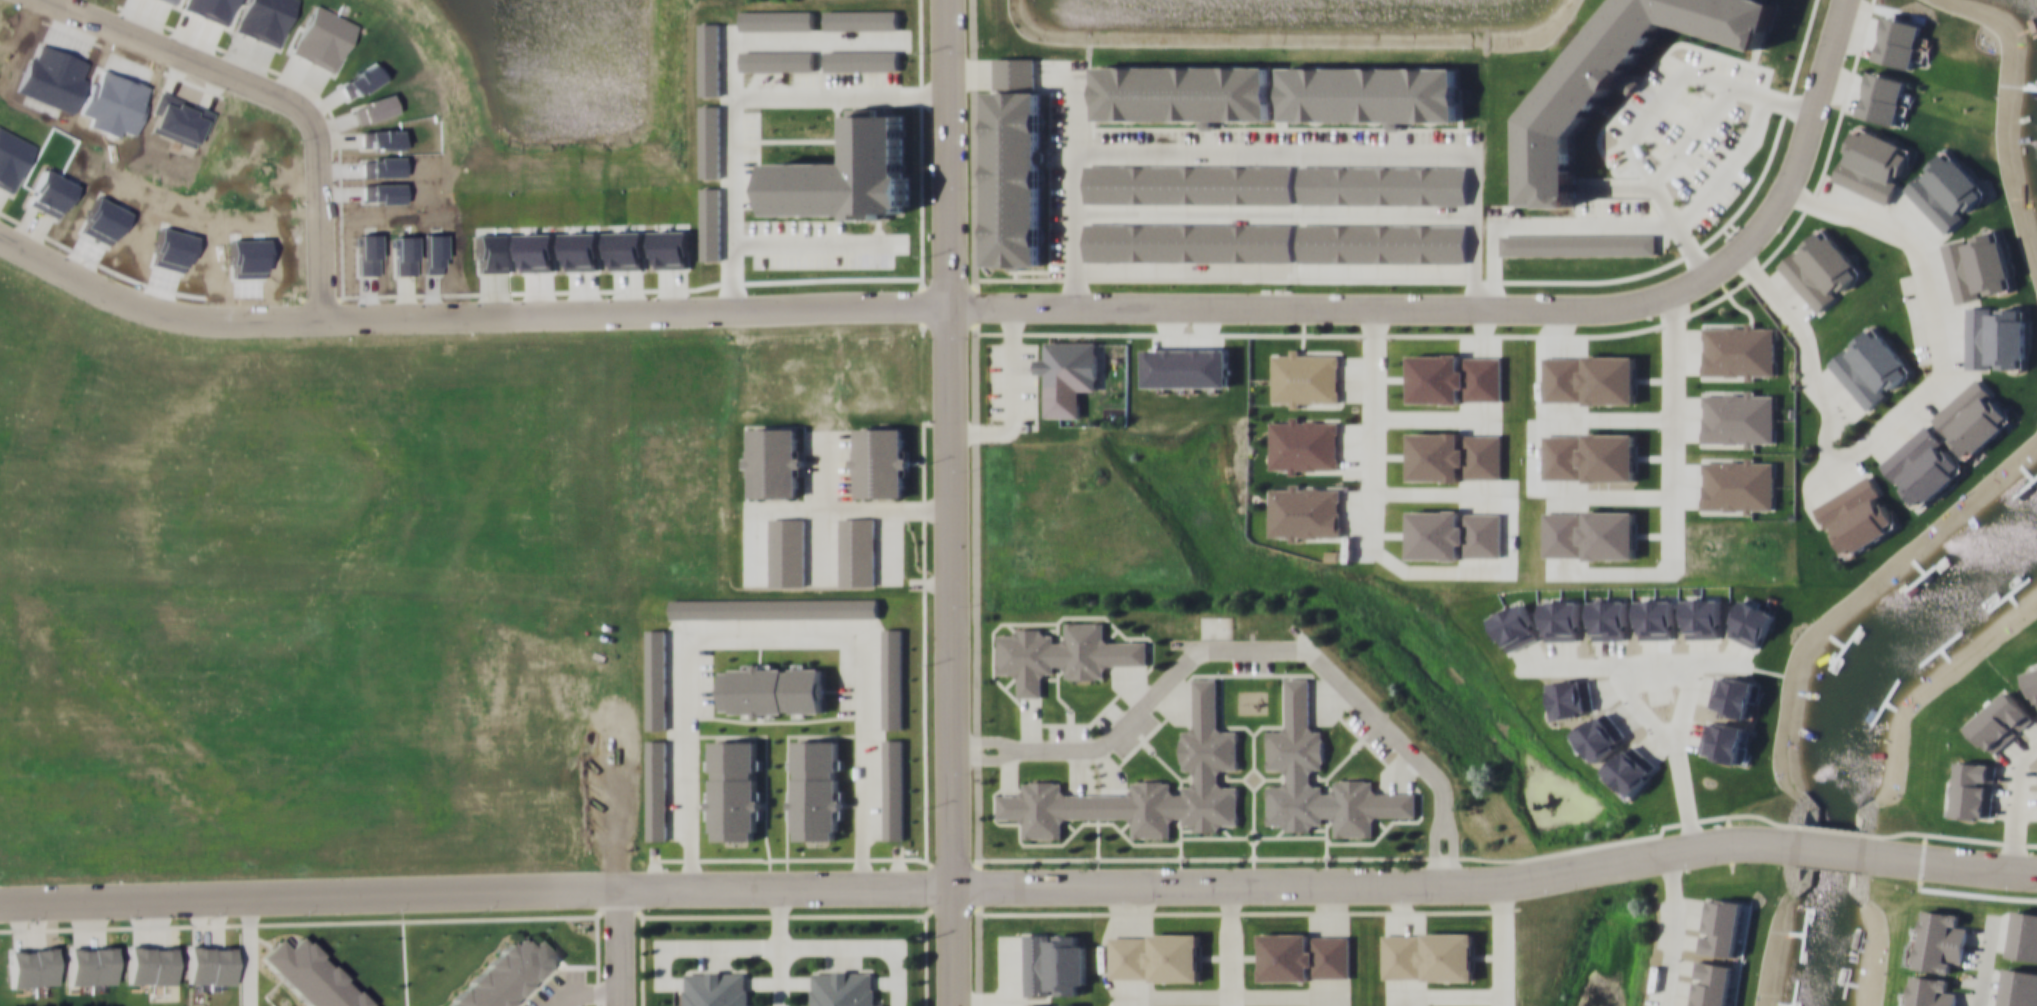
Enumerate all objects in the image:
building: (1184, 92)
road: (272, 94)
building: (1015, 163)
building: (1188, 183)
building: (1188, 241)
building: (1383, 242)
building: (1988, 263)
building: (1820, 269)
road: (1489, 309)
road: (465, 314)
building: (1739, 350)
building: (1070, 365)
building: (1306, 376)
building: (1456, 378)
building: (1590, 378)
building: (1740, 417)
road: (949, 443)
building: (1304, 444)
building: (1455, 456)
building: (1590, 456)
building: (775, 461)
building: (879, 462)
building: (1922, 466)
building: (1307, 511)
building: (1857, 515)
building: (1563, 533)
building: (1606, 533)
building: (1455, 534)
building: (787, 550)
building: (857, 550)
building: (774, 608)
road: (1253, 649)
building: (1063, 654)
building: (656, 678)
building: (893, 678)
building: (2032, 684)
building: (773, 689)
building: (1998, 720)
road: (1282, 725)
road: (984, 740)
building: (1296, 748)
road: (985, 758)
road: (1682, 760)
road: (1263, 778)
building: (1146, 785)
building: (816, 788)
building: (893, 788)
building: (657, 789)
building: (734, 789)
building: (1974, 790)
road: (2014, 799)
road: (1070, 834)
road: (1210, 836)
road: (1260, 836)
road: (1372, 841)
road: (1451, 848)
road: (1831, 848)
road: (1434, 849)
road: (1097, 853)
road: (1255, 857)
road: (1949, 860)
road: (1326, 862)
road: (1378, 882)
road: (727, 888)
road: (309, 896)
building: (1721, 925)
road: (1670, 928)
building: (1939, 940)
road: (1502, 944)
road: (1229, 945)
road: (953, 946)
building: (1428, 955)
building: (1155, 956)
building: (1304, 956)
road: (1983, 962)
building: (1054, 963)
building: (502, 975)
building: (1713, 983)
building: (715, 988)
building: (842, 988)
building: (1929, 992)
building: (1053, 1004)

